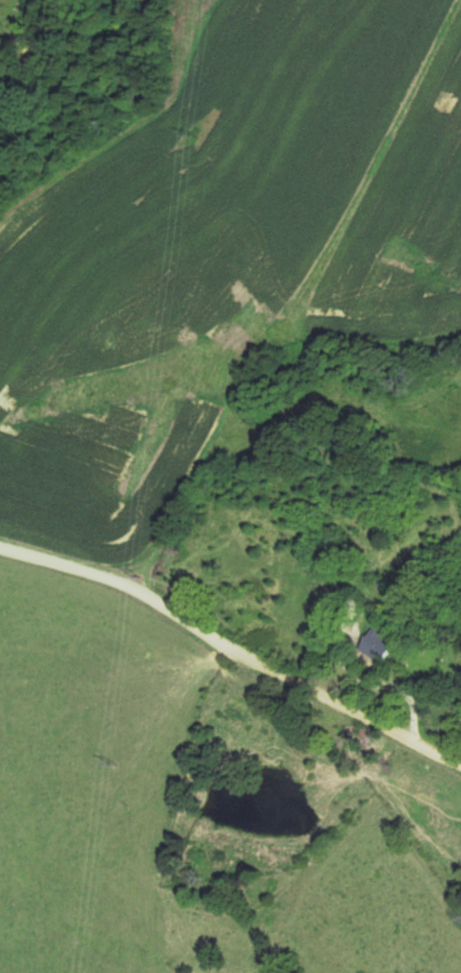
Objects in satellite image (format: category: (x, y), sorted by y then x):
building: (379, 643)
road: (232, 644)

